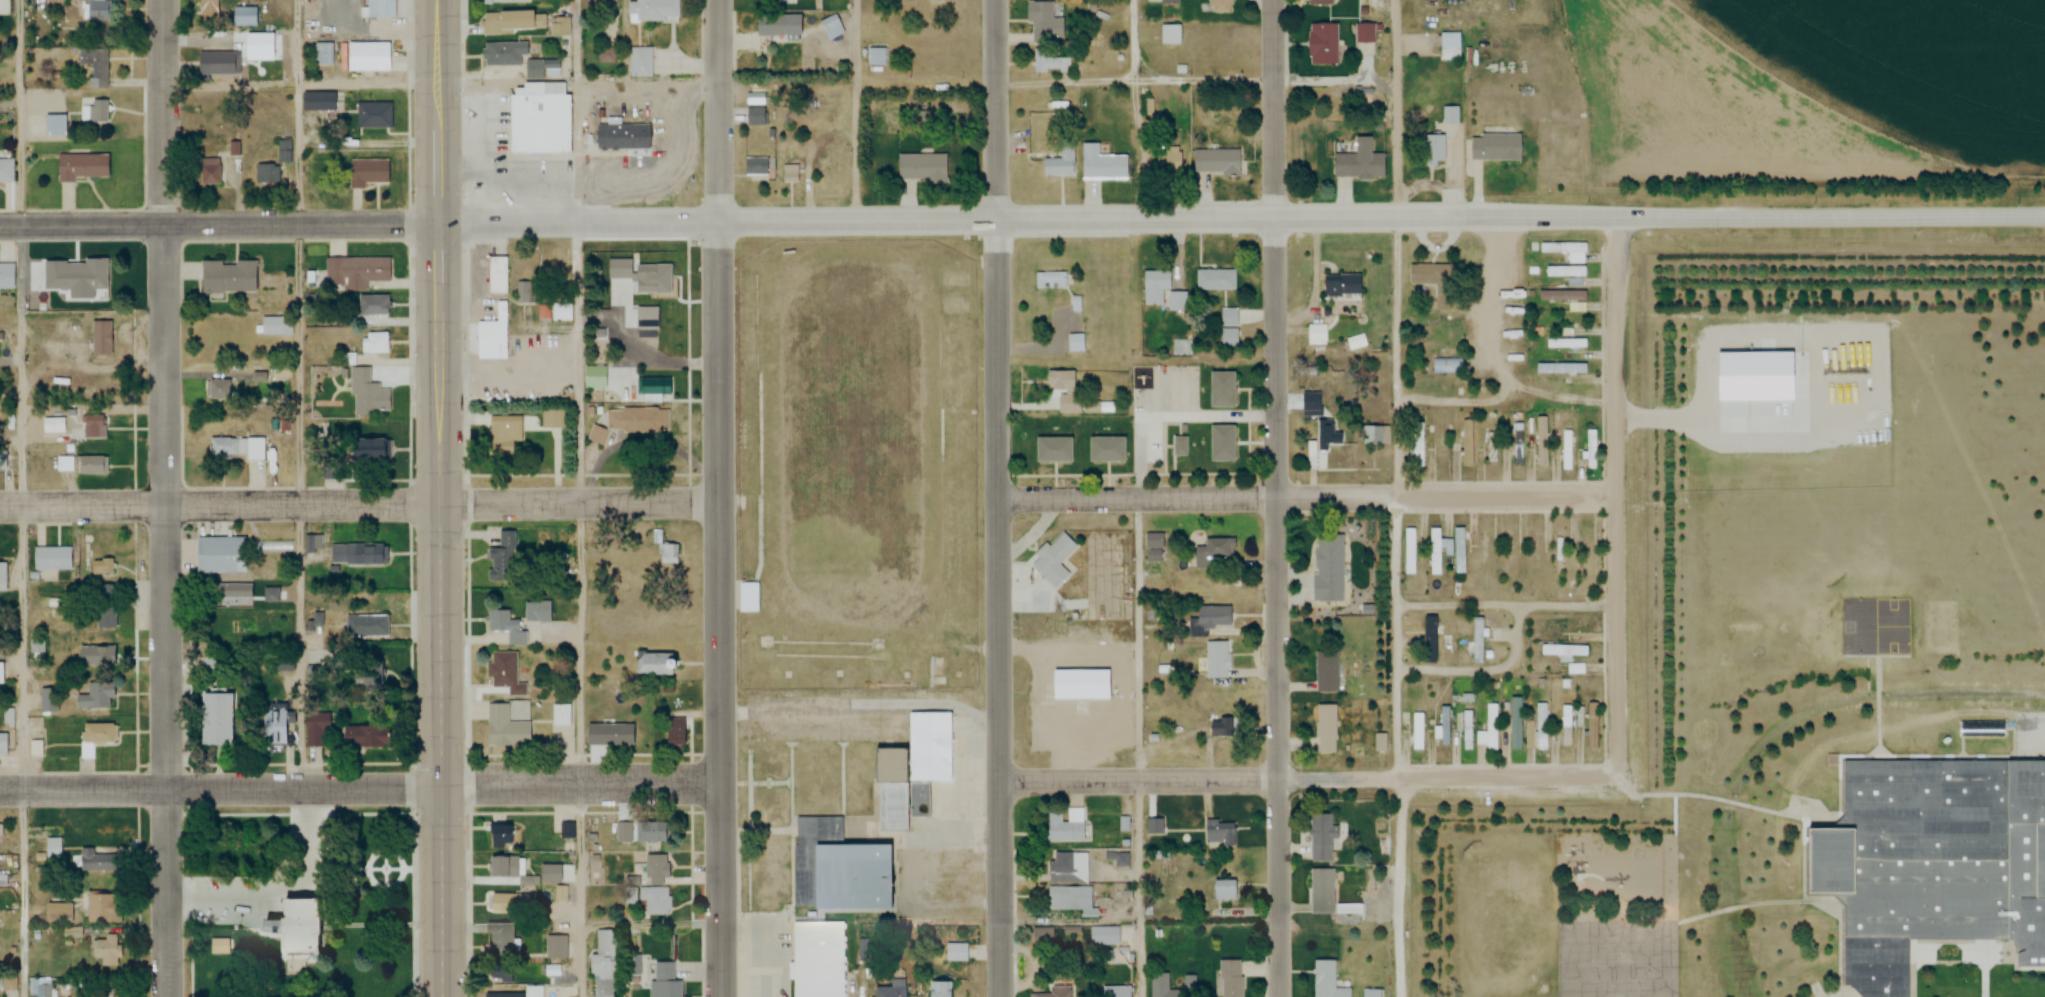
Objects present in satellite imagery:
building: (505, 1)
building: (940, 1)
building: (1170, 2)
building: (1319, 2)
building: (596, 6)
building: (1219, 6)
building: (209, 9)
building: (380, 9)
building: (98, 10)
building: (653, 10)
building: (243, 16)
building: (1043, 19)
building: (506, 21)
building: (777, 25)
building: (560, 26)
building: (832, 26)
building: (1365, 33)
building: (1171, 35)
building: (1322, 44)
building: (1449, 46)
building: (323, 54)
building: (502, 54)
building: (879, 56)
building: (366, 57)
building: (640, 62)
building: (1052, 62)
building: (95, 65)
building: (541, 68)
road: (1136, 87)
building: (312, 101)
road: (1395, 107)
road: (1134, 110)
road: (860, 111)
building: (95, 112)
building: (374, 115)
building: (1451, 115)
building: (757, 116)
building: (540, 121)
building: (55, 125)
building: (622, 137)
building: (1495, 147)
building: (1433, 151)
building: (1061, 161)
building: (1166, 161)
building: (1216, 161)
building: (1359, 162)
building: (1102, 163)
building: (274, 165)
building: (757, 166)
building: (82, 167)
building: (922, 168)
building: (6, 170)
building: (210, 171)
building: (369, 173)
road: (1830, 213)
road: (1028, 222)
road: (220, 226)
building: (1567, 250)
building: (1566, 271)
building: (355, 272)
building: (635, 274)
building: (498, 275)
building: (6, 276)
building: (228, 276)
building: (1054, 279)
building: (1216, 280)
building: (1436, 282)
building: (96, 283)
building: (1341, 285)
building: (1155, 286)
building: (0, 292)
building: (526, 292)
building: (1562, 296)
building: (373, 305)
building: (558, 307)
building: (1229, 317)
building: (277, 326)
building: (1318, 333)
building: (494, 335)
building: (1230, 338)
building: (101, 339)
building: (376, 343)
building: (1076, 343)
building: (1357, 343)
building: (1566, 344)
road: (12, 365)
building: (1447, 366)
building: (1560, 369)
building: (1060, 381)
building: (1221, 390)
road: (303, 393)
building: (369, 396)
building: (1310, 402)
building: (630, 424)
building: (94, 428)
building: (1327, 435)
building: (503, 436)
building: (1375, 436)
building: (1443, 439)
building: (1542, 443)
building: (1221, 444)
building: (1467, 444)
building: (1418, 445)
building: (1518, 445)
building: (1179, 447)
building: (237, 448)
building: (1052, 450)
building: (1106, 450)
building: (365, 451)
building: (65, 464)
building: (93, 465)
road: (1617, 497)
road: (25, 498)
road: (166, 498)
road: (442, 498)
road: (582, 498)
road: (718, 498)
road: (998, 498)
road: (1276, 498)
road: (1307, 499)
road: (581, 505)
road: (221, 508)
building: (1154, 548)
building: (1484, 549)
building: (1409, 552)
building: (1511, 552)
building: (1560, 552)
building: (233, 553)
building: (358, 553)
building: (1216, 553)
building: (671, 554)
building: (505, 556)
building: (52, 558)
building: (1053, 561)
building: (103, 567)
building: (1328, 572)
building: (2, 580)
building: (225, 592)
building: (749, 597)
road: (1507, 606)
building: (106, 607)
building: (538, 612)
building: (1208, 621)
building: (367, 626)
building: (505, 626)
building: (1877, 628)
building: (1432, 636)
building: (1478, 641)
building: (1563, 650)
building: (1217, 660)
building: (658, 664)
building: (1326, 672)
building: (2, 673)
building: (505, 674)
building: (370, 675)
building: (1080, 685)
building: (95, 696)
building: (9, 717)
building: (214, 720)
building: (1566, 723)
building: (274, 726)
building: (1592, 726)
building: (1542, 727)
building: (315, 728)
building: (504, 728)
building: (1325, 729)
building: (1489, 729)
building: (1980, 729)
building: (673, 733)
road: (2039, 733)
building: (618, 735)
building: (360, 736)
building: (96, 737)
building: (4, 745)
road: (1398, 747)
building: (36, 749)
building: (909, 767)
road: (1311, 779)
road: (582, 783)
road: (222, 786)
building: (1062, 829)
building: (650, 831)
building: (567, 832)
building: (1219, 833)
building: (501, 835)
building: (1320, 838)
building: (54, 851)
building: (101, 858)
building: (1931, 863)
building: (504, 865)
building: (1067, 868)
building: (655, 869)
building: (838, 869)
building: (3, 879)
building: (1321, 891)
building: (1225, 892)
building: (655, 900)
building: (1071, 900)
building: (510, 902)
building: (99, 906)
building: (59, 911)
building: (289, 924)
building: (1103, 935)
building: (1042, 938)
building: (499, 939)
building: (555, 946)
building: (108, 951)
building: (955, 952)
building: (818, 959)
building: (603, 963)
building: (1228, 978)
building: (1325, 980)
building: (664, 981)
building: (1190, 984)
building: (1160, 985)
building: (42, 987)
building: (533, 989)
building: (891, 989)
building: (940, 990)
building: (1114, 991)
building: (1370, 993)
building: (1047, 995)

